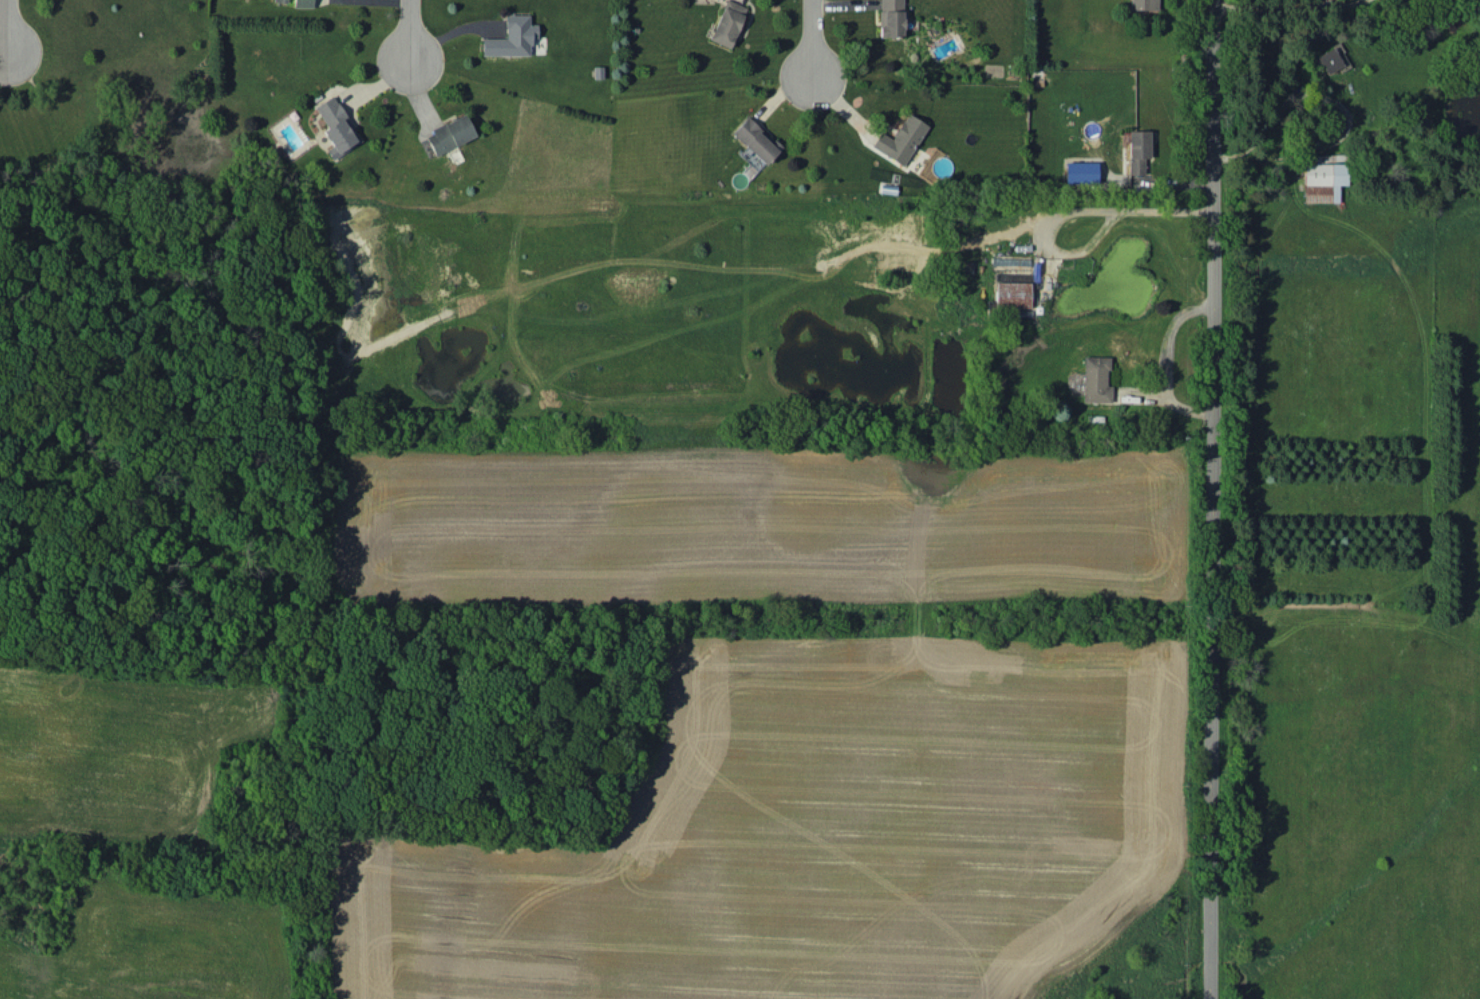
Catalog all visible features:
building: (303, 3)
building: (1143, 4)
road: (1328, 4)
road: (1349, 6)
road: (1263, 12)
building: (891, 18)
building: (728, 23)
road: (7, 25)
road: (402, 27)
road: (811, 29)
building: (511, 37)
road: (3, 53)
building: (1332, 59)
road: (1326, 98)
building: (336, 127)
building: (450, 134)
building: (756, 139)
building: (901, 139)
building: (1137, 150)
building: (1080, 172)
building: (1323, 181)
road: (1065, 215)
building: (1012, 294)
road: (1161, 361)
building: (1095, 379)
road: (1212, 499)

